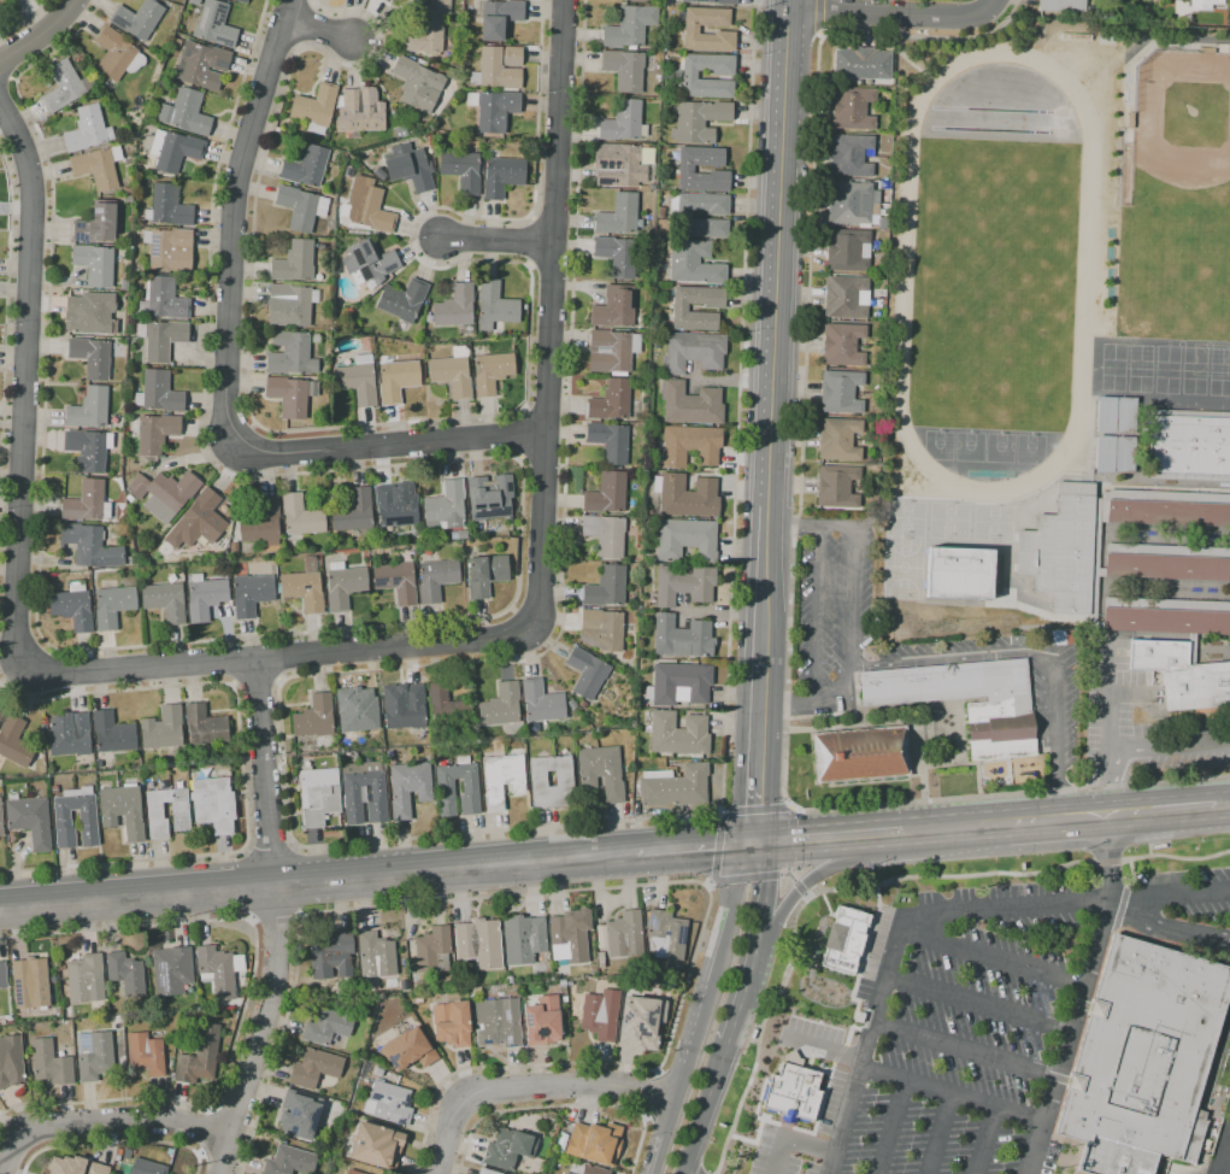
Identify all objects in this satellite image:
building: (10, 0)
building: (12, 0)
building: (392, 0)
building: (411, 0)
building: (239, 1)
building: (636, 1)
building: (193, 2)
building: (716, 2)
building: (1207, 5)
building: (1065, 7)
building: (1229, 7)
road: (995, 8)
road: (891, 13)
building: (136, 18)
building: (499, 18)
building: (213, 25)
building: (629, 27)
building: (690, 29)
building: (425, 30)
road: (39, 31)
road: (328, 40)
building: (112, 53)
building: (512, 57)
building: (199, 65)
building: (865, 66)
building: (624, 69)
building: (494, 71)
building: (688, 77)
building: (414, 83)
building: (61, 86)
building: (314, 105)
building: (493, 110)
building: (854, 110)
building: (184, 113)
building: (359, 113)
building: (698, 121)
building: (620, 122)
building: (84, 130)
building: (173, 151)
building: (853, 157)
building: (618, 165)
building: (305, 166)
building: (407, 166)
building: (96, 168)
building: (684, 169)
building: (460, 170)
building: (378, 174)
building: (501, 176)
building: (852, 205)
park: (1176, 205)
building: (169, 206)
building: (367, 206)
building: (300, 207)
building: (617, 216)
building: (682, 217)
road: (245, 221)
building: (95, 224)
road: (493, 241)
road: (779, 246)
building: (170, 250)
building: (849, 252)
building: (616, 256)
building: (293, 262)
building: (369, 262)
building: (93, 264)
building: (693, 264)
park: (994, 271)
building: (123, 284)
building: (122, 297)
building: (165, 299)
building: (848, 299)
building: (401, 300)
building: (293, 303)
building: (454, 306)
building: (494, 306)
building: (613, 307)
building: (678, 310)
road: (546, 311)
building: (89, 313)
building: (160, 339)
building: (846, 346)
building: (611, 351)
building: (693, 352)
building: (289, 353)
building: (90, 357)
building: (490, 371)
building: (451, 375)
building: (396, 380)
road: (23, 382)
building: (355, 382)
building: (158, 393)
building: (843, 393)
building: (289, 395)
building: (610, 400)
building: (691, 404)
building: (88, 409)
building: (1126, 416)
building: (154, 434)
road: (389, 441)
building: (841, 441)
building: (608, 442)
building: (1188, 445)
building: (689, 446)
building: (86, 451)
building: (1104, 454)
building: (1124, 456)
building: (840, 488)
building: (163, 493)
building: (606, 493)
building: (687, 497)
building: (489, 498)
building: (83, 501)
building: (445, 506)
building: (393, 507)
building: (352, 512)
building: (300, 516)
building: (201, 517)
road: (794, 522)
building: (260, 524)
building: (605, 534)
building: (458, 535)
building: (684, 540)
building: (88, 546)
building: (963, 574)
building: (484, 575)
road: (765, 577)
building: (436, 579)
building: (395, 582)
building: (683, 585)
building: (304, 586)
building: (343, 586)
building: (605, 587)
building: (249, 593)
building: (204, 597)
building: (1134, 599)
building: (164, 601)
building: (111, 605)
road: (851, 606)
building: (71, 609)
road: (817, 612)
road: (723, 614)
building: (600, 630)
building: (681, 638)
building: (1079, 639)
road: (1028, 651)
road: (283, 656)
building: (585, 673)
building: (678, 683)
road: (1107, 698)
building: (500, 705)
building: (540, 705)
building: (447, 706)
road: (788, 706)
building: (0, 709)
building: (406, 709)
building: (0, 711)
building: (354, 712)
building: (313, 717)
building: (204, 726)
building: (161, 729)
building: (999, 730)
building: (112, 733)
building: (67, 734)
building: (677, 734)
building: (13, 741)
road: (1167, 750)
road: (759, 752)
building: (859, 755)
road: (264, 770)
building: (600, 771)
building: (500, 780)
building: (563, 780)
road: (1106, 786)
building: (407, 787)
building: (443, 787)
building: (675, 787)
road: (1010, 794)
building: (317, 796)
building: (363, 798)
building: (212, 800)
road: (1225, 804)
building: (120, 810)
building: (178, 810)
road: (1164, 810)
road: (754, 811)
building: (87, 817)
building: (29, 820)
road: (1004, 823)
building: (0, 826)
road: (506, 830)
road: (828, 837)
road: (788, 838)
traffic signals: (755, 843)
road: (695, 847)
road: (716, 849)
road: (270, 853)
road: (125, 861)
road: (787, 871)
road: (787, 875)
road: (317, 877)
road: (745, 879)
road: (708, 885)
road: (802, 885)
road: (871, 886)
road: (624, 887)
road: (799, 888)
road: (805, 897)
road: (273, 911)
road: (938, 914)
road: (1169, 929)
building: (666, 934)
building: (570, 935)
building: (622, 935)
building: (523, 939)
road: (755, 941)
building: (842, 941)
building: (478, 943)
building: (432, 950)
building: (330, 956)
building: (376, 956)
road: (995, 958)
building: (600, 959)
building: (171, 970)
building: (216, 972)
building: (125, 973)
building: (2, 975)
building: (86, 979)
building: (30, 984)
road: (1084, 996)
building: (0, 998)
road: (247, 998)
building: (418, 999)
road: (981, 1005)
road: (700, 1006)
building: (600, 1015)
building: (638, 1020)
building: (541, 1021)
building: (498, 1022)
building: (452, 1023)
building: (329, 1026)
road: (258, 1029)
parking lot: (972, 1034)
road: (825, 1046)
building: (408, 1049)
road: (967, 1051)
building: (1146, 1051)
building: (146, 1053)
building: (96, 1057)
building: (199, 1057)
building: (10, 1061)
building: (51, 1064)
building: (314, 1068)
road: (718, 1069)
building: (377, 1072)
road: (529, 1090)
building: (790, 1090)
road: (649, 1094)
road: (953, 1094)
building: (388, 1103)
road: (560, 1107)
building: (299, 1114)
road: (233, 1116)
road: (100, 1121)
road: (893, 1127)
road: (205, 1131)
road: (940, 1134)
road: (694, 1135)
road: (790, 1139)
road: (988, 1140)
road: (116, 1141)
building: (595, 1143)
building: (376, 1146)
building: (508, 1147)
road: (220, 1158)
building: (1113, 1158)
building: (288, 1161)
building: (75, 1167)
building: (146, 1167)
building: (251, 1168)
building: (593, 1170)
building: (352, 1172)
building: (487, 1172)
building: (563, 1173)
building: (564, 1173)

